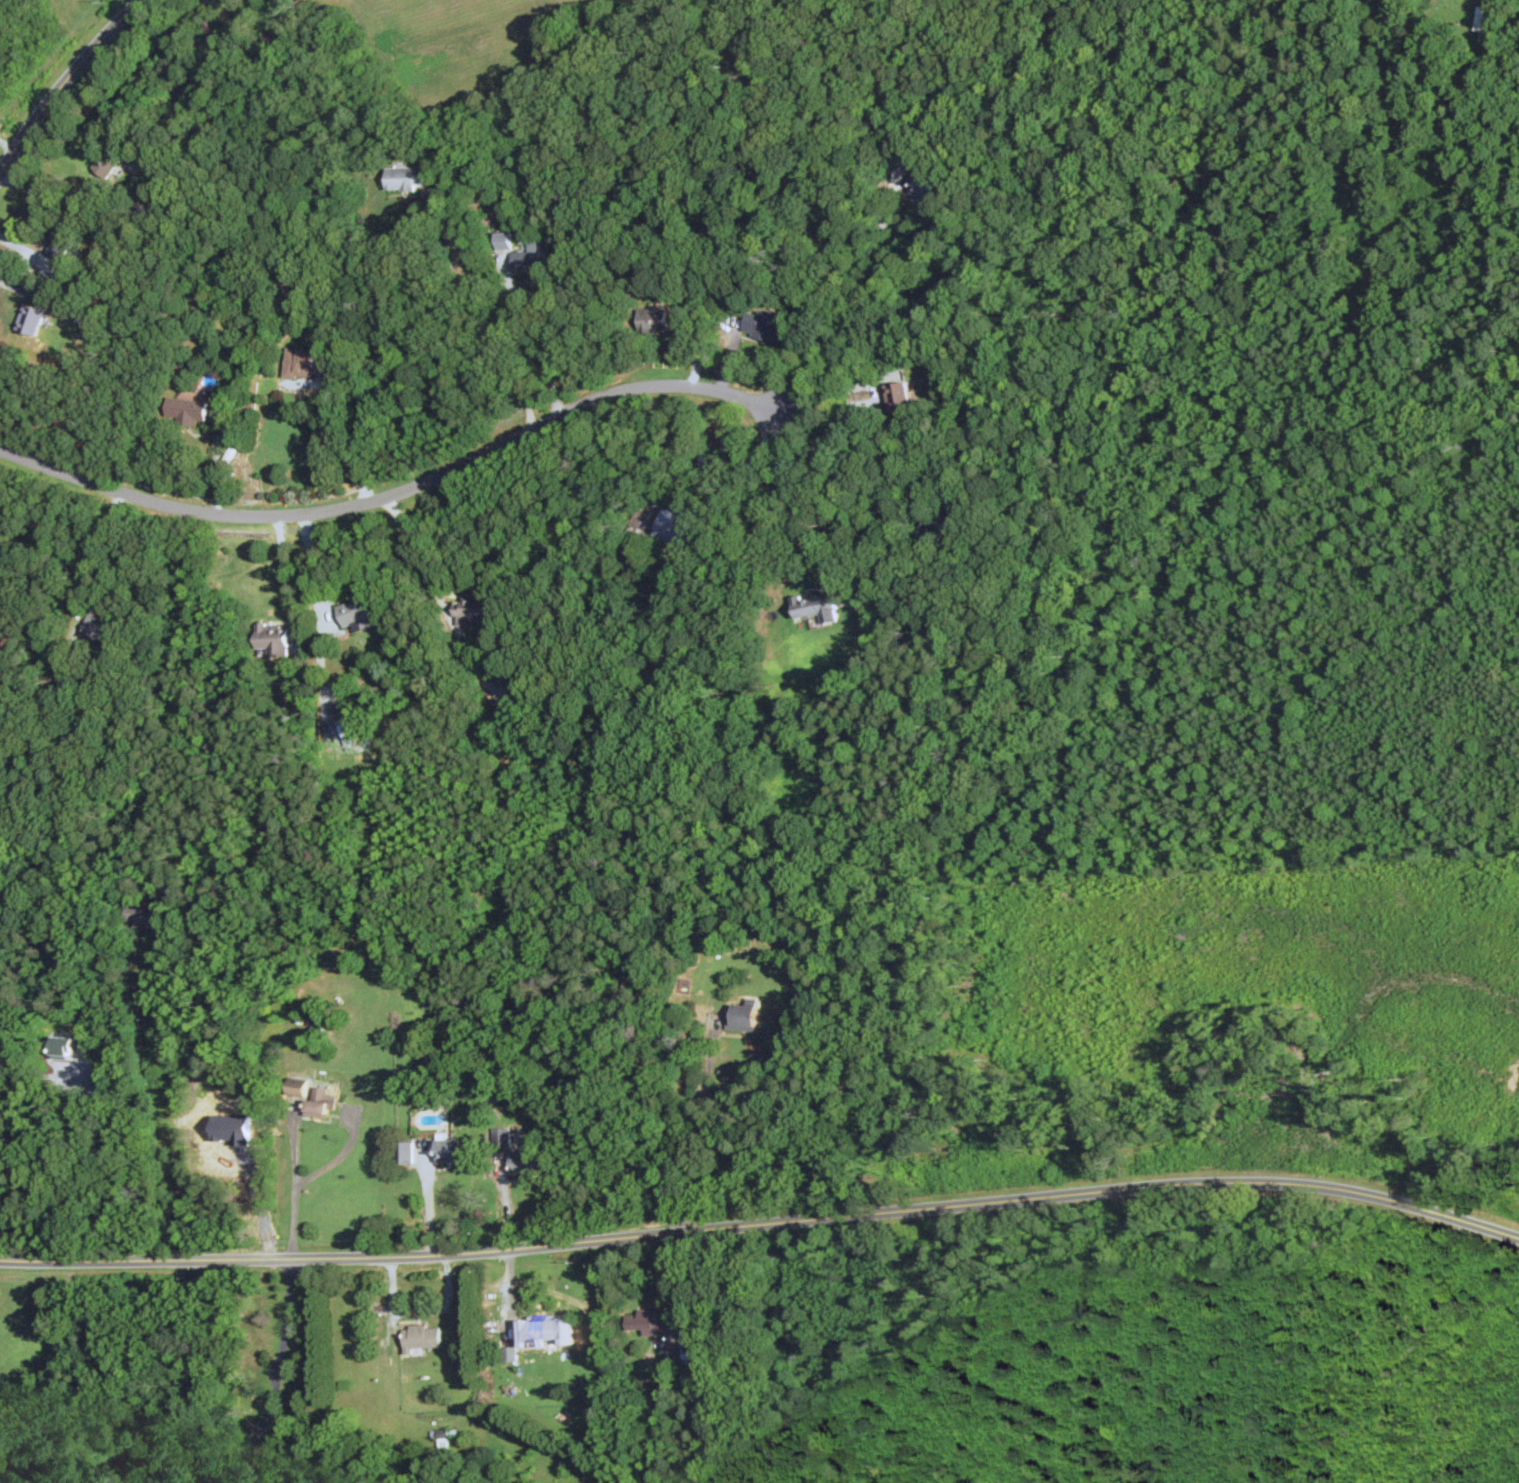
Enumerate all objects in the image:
road: (114, 26)
building: (211, 28)
road: (41, 110)
building: (107, 159)
building: (903, 160)
building: (404, 177)
building: (922, 187)
building: (503, 239)
building: (60, 241)
building: (535, 257)
road: (852, 317)
building: (30, 319)
road: (494, 319)
building: (652, 319)
building: (764, 325)
road: (536, 344)
building: (299, 363)
road: (858, 385)
building: (897, 395)
building: (186, 410)
road: (348, 440)
road: (883, 456)
building: (707, 460)
road: (218, 465)
road: (681, 483)
road: (396, 493)
building: (0, 495)
road: (798, 504)
building: (944, 517)
building: (674, 526)
road: (98, 550)
road: (289, 580)
road: (437, 590)
road: (317, 597)
building: (815, 607)
building: (474, 609)
building: (357, 612)
building: (101, 629)
building: (273, 639)
building: (142, 915)
building: (741, 1017)
building: (61, 1047)
road: (175, 1102)
building: (319, 1102)
road: (701, 1133)
building: (502, 1137)
building: (447, 1151)
building: (404, 1153)
road: (71, 1158)
building: (525, 1162)
road: (293, 1187)
road: (428, 1205)
road: (763, 1223)
road: (667, 1282)
road: (511, 1296)
road: (418, 1312)
building: (640, 1322)
building: (545, 1329)
building: (421, 1337)
road: (275, 1377)

